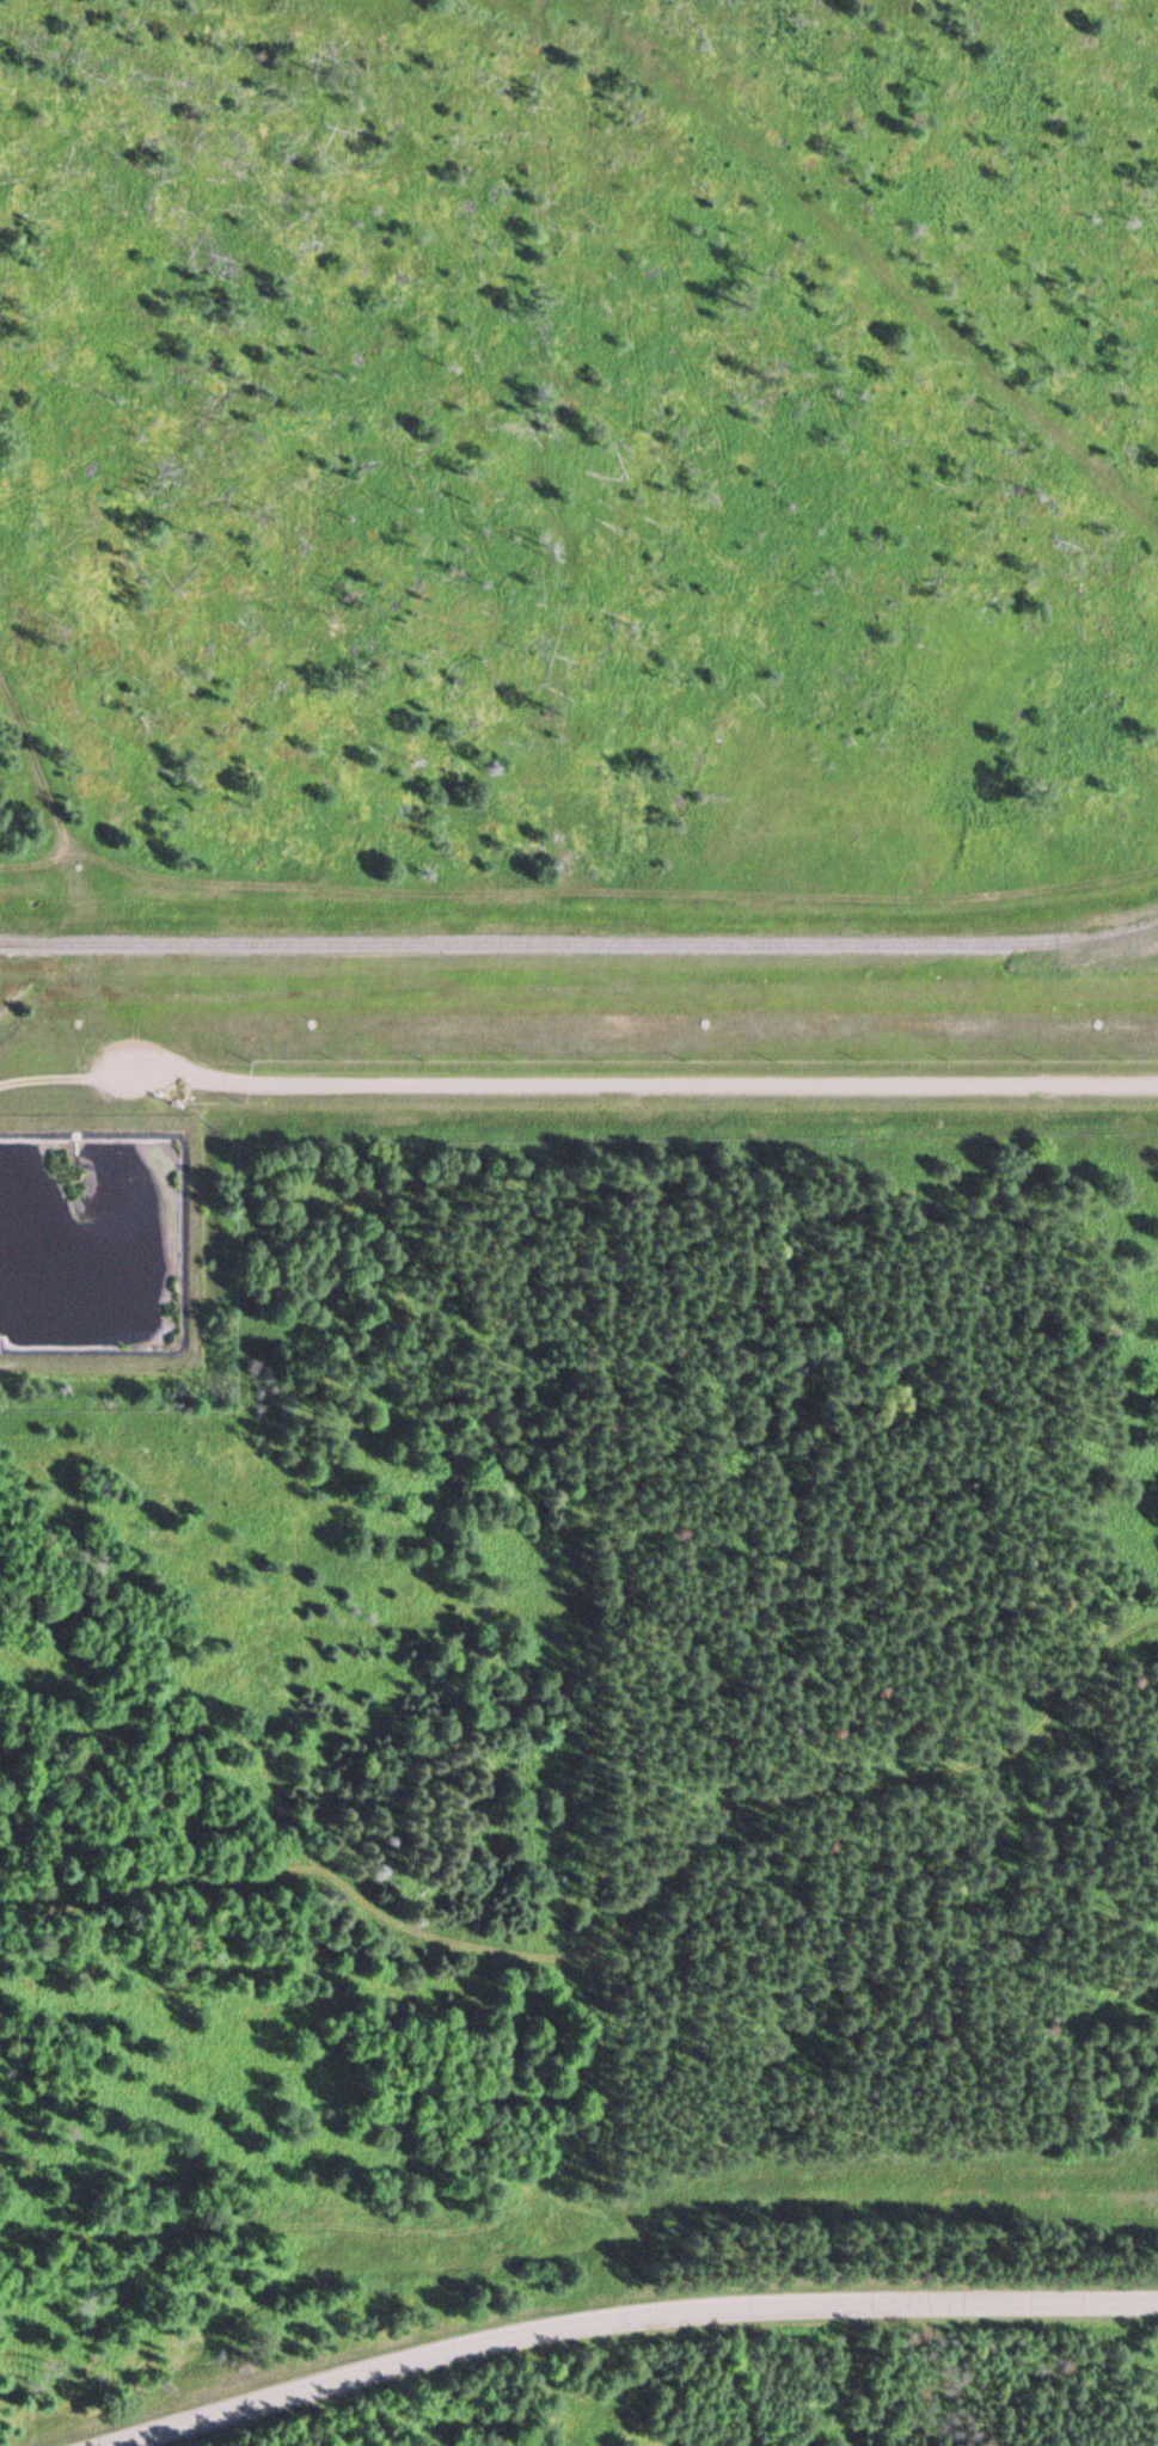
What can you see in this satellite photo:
railway: (580, 942)
road: (641, 1081)
road: (620, 2309)

